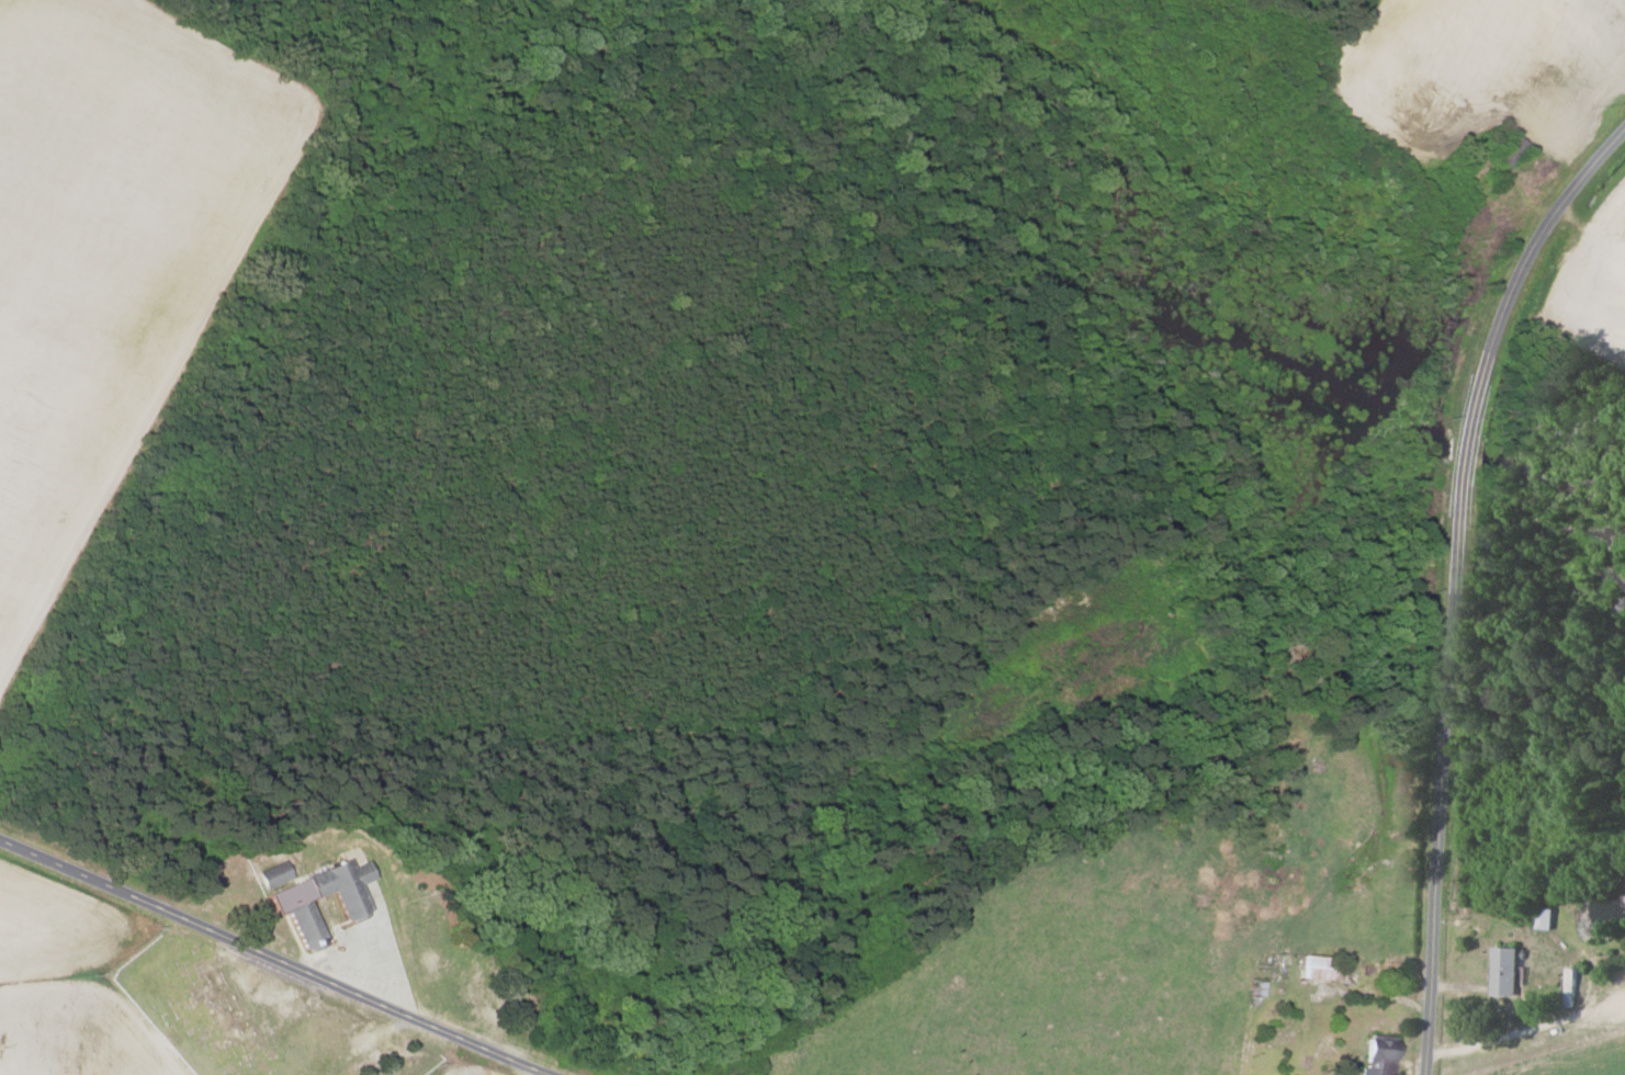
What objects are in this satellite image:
road: (1452, 579)
building: (290, 905)
building: (1542, 919)
road: (273, 960)
building: (1316, 967)
building: (1505, 971)
building: (1379, 1055)

